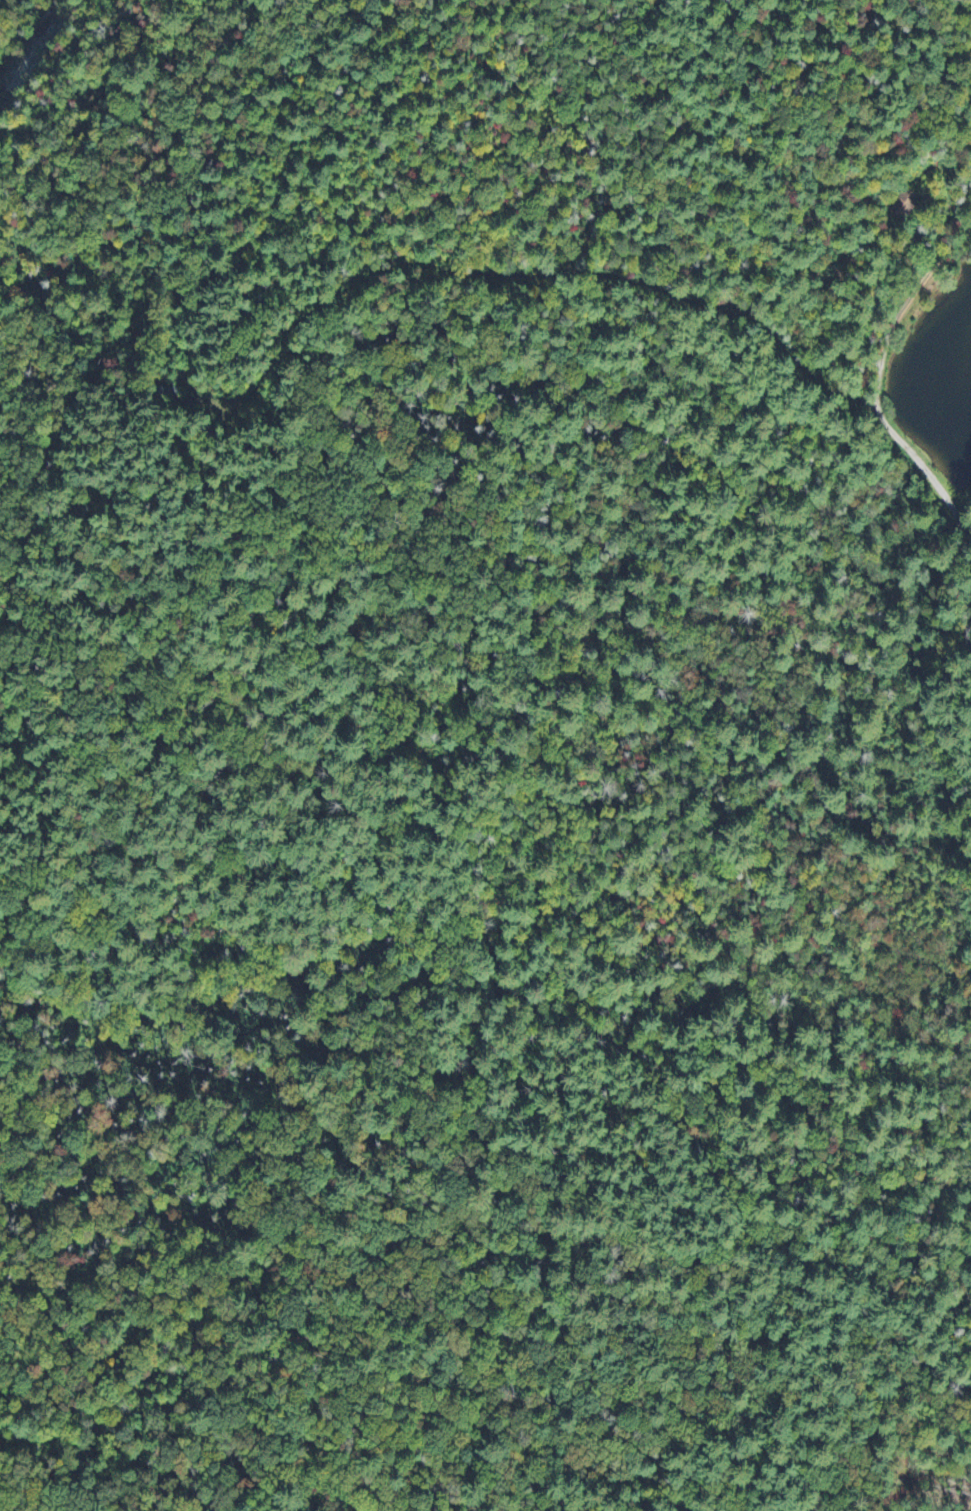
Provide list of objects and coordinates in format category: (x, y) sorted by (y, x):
road: (882, 356)
road: (966, 617)

